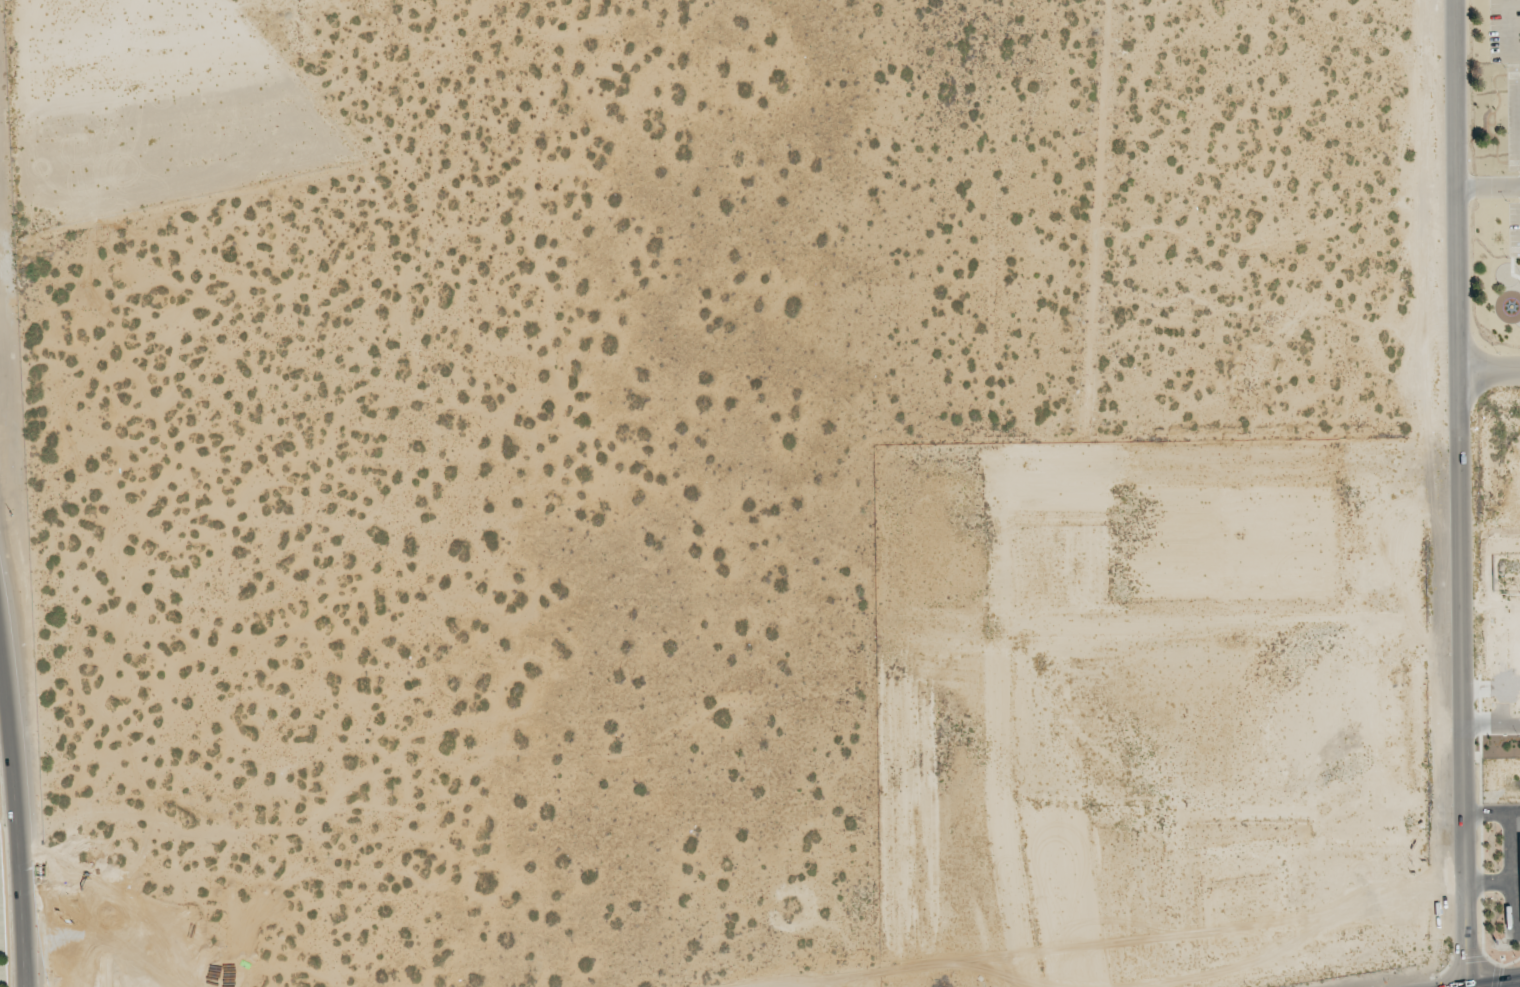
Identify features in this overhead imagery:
road: (1489, 187)
road: (1490, 371)
road: (1462, 493)
road: (1492, 728)
road: (20, 791)
road: (1512, 816)
road: (1511, 852)
road: (1511, 909)
traffic signals: (1466, 952)
road: (1502, 984)
traffic signals: (1503, 984)

